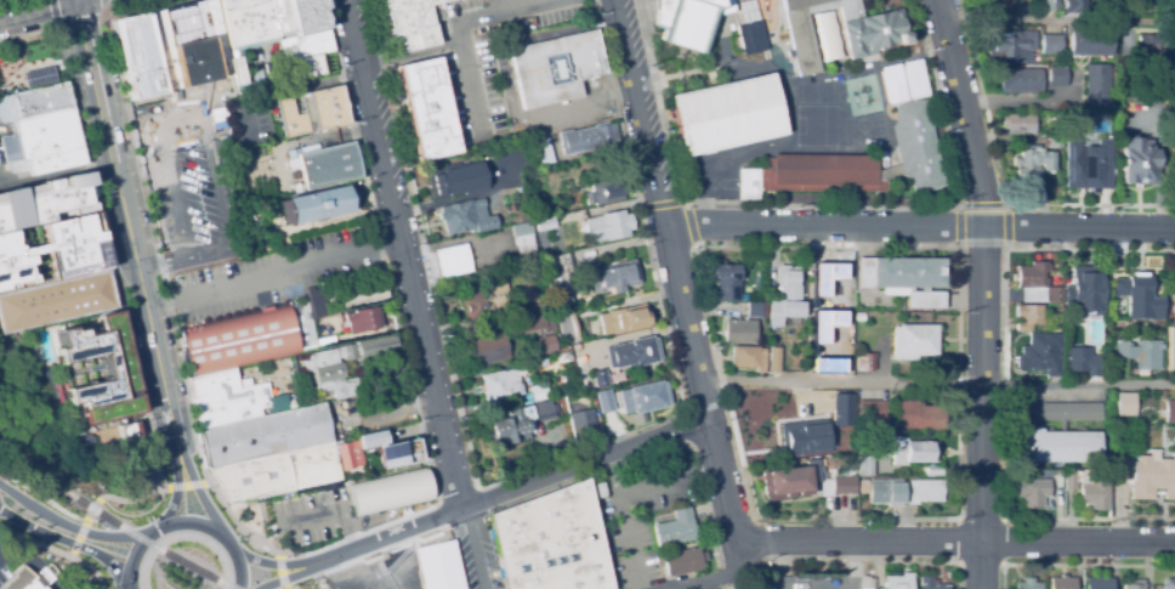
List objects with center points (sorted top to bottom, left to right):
building: (1052, 4)
building: (1077, 4)
road: (135, 7)
road: (34, 9)
building: (308, 16)
building: (283, 18)
building: (263, 21)
building: (530, 21)
road: (73, 22)
building: (687, 22)
building: (246, 23)
building: (229, 24)
building: (411, 24)
road: (1058, 24)
road: (460, 26)
building: (875, 36)
building: (750, 38)
building: (216, 40)
building: (1011, 44)
building: (1051, 44)
building: (1090, 44)
building: (192, 45)
building: (305, 46)
building: (1148, 49)
building: (165, 51)
building: (148, 55)
building: (130, 60)
building: (558, 69)
building: (311, 72)
building: (1173, 73)
building: (1057, 75)
building: (39, 78)
building: (910, 80)
building: (1021, 80)
building: (891, 85)
building: (1097, 85)
building: (40, 101)
building: (310, 102)
road: (578, 108)
building: (427, 109)
building: (728, 115)
building: (314, 121)
building: (1018, 124)
building: (1099, 125)
building: (47, 129)
building: (1056, 134)
building: (586, 138)
building: (1174, 142)
building: (1055, 143)
building: (541, 151)
building: (53, 158)
building: (1140, 162)
building: (853, 164)
building: (1032, 164)
building: (1091, 164)
building: (329, 166)
road: (214, 176)
road: (172, 182)
building: (455, 182)
road: (1001, 185)
parking lot: (188, 189)
road: (658, 189)
building: (604, 192)
building: (45, 203)
road: (682, 203)
road: (822, 205)
road: (982, 205)
building: (319, 206)
building: (540, 209)
building: (284, 213)
building: (458, 222)
building: (545, 223)
building: (608, 226)
road: (127, 227)
road: (920, 227)
building: (523, 238)
road: (825, 248)
building: (53, 253)
road: (403, 254)
building: (452, 262)
road: (273, 276)
building: (614, 277)
building: (904, 278)
parking lot: (278, 279)
building: (557, 279)
building: (726, 282)
building: (1032, 282)
building: (831, 283)
road: (980, 291)
building: (367, 293)
building: (1055, 294)
building: (787, 295)
building: (1135, 295)
building: (1173, 299)
building: (1084, 300)
building: (486, 301)
building: (56, 302)
building: (314, 302)
building: (757, 305)
building: (1028, 316)
building: (859, 317)
building: (624, 319)
building: (538, 321)
building: (362, 322)
building: (567, 328)
building: (237, 332)
building: (740, 332)
building: (914, 341)
building: (322, 342)
building: (547, 344)
building: (486, 349)
building: (635, 352)
building: (1140, 352)
building: (242, 356)
building: (1043, 356)
building: (748, 357)
building: (564, 358)
building: (774, 358)
building: (346, 359)
building: (1080, 359)
building: (819, 361)
building: (865, 361)
building: (100, 372)
building: (601, 379)
road: (937, 381)
building: (501, 384)
building: (214, 385)
building: (534, 395)
building: (643, 397)
building: (232, 400)
road: (704, 400)
building: (604, 401)
building: (1123, 402)
building: (842, 410)
building: (874, 410)
building: (1170, 412)
building: (235, 415)
building: (918, 417)
building: (516, 424)
building: (1133, 424)
building: (584, 425)
building: (127, 431)
building: (1145, 434)
building: (1062, 435)
building: (266, 436)
building: (805, 440)
building: (373, 441)
building: (912, 452)
building: (348, 455)
building: (398, 455)
building: (822, 460)
road: (547, 461)
building: (864, 466)
building: (933, 470)
building: (1137, 470)
building: (277, 474)
road: (665, 477)
building: (789, 481)
road: (721, 482)
building: (839, 482)
building: (1069, 482)
building: (863, 487)
road: (511, 489)
building: (387, 491)
building: (924, 491)
building: (885, 492)
building: (1033, 492)
building: (1095, 493)
road: (175, 494)
road: (46, 499)
road: (203, 500)
railway: (113, 521)
road: (183, 522)
road: (621, 522)
road: (73, 527)
building: (674, 529)
road: (68, 540)
road: (954, 540)
building: (552, 543)
road: (472, 549)
building: (681, 562)
parking lot: (4, 563)
road: (271, 563)
building: (437, 566)
road: (288, 577)
road: (717, 577)
building: (30, 579)
building: (896, 583)
building: (931, 583)
building: (1061, 583)
building: (1097, 583)
road: (284, 584)
building: (1027, 584)
building: (1134, 584)
building: (1168, 584)
building: (760, 585)
road: (127, 587)

